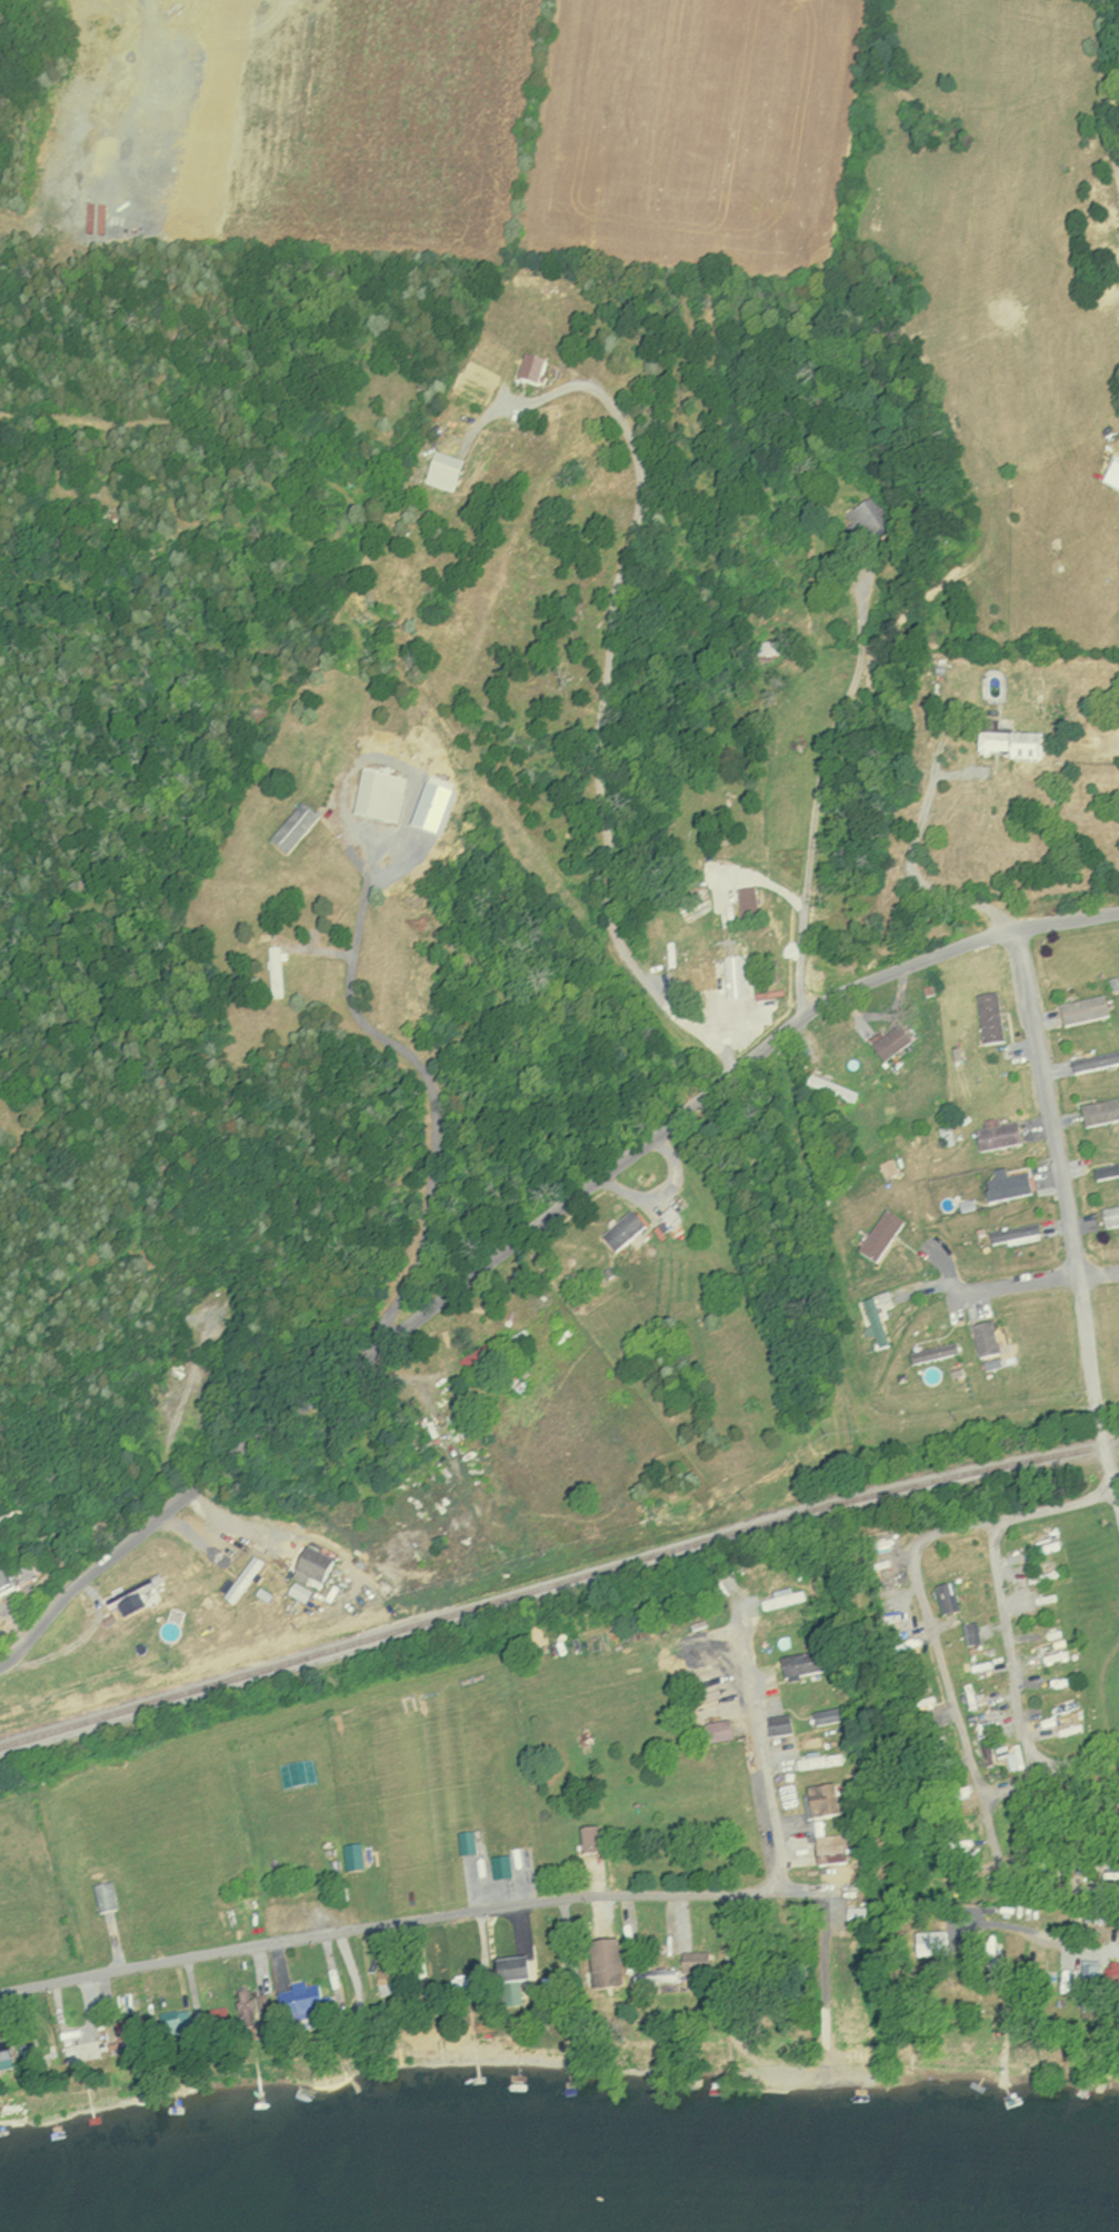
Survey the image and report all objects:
road: (1110, 130)
road: (601, 736)
building: (1017, 746)
road: (818, 793)
road: (917, 878)
building: (749, 904)
road: (903, 967)
building: (272, 973)
building: (723, 973)
building: (772, 973)
building: (1086, 1010)
building: (992, 1018)
road: (728, 1040)
building: (891, 1043)
building: (1096, 1063)
road: (423, 1079)
building: (832, 1089)
building: (1101, 1113)
building: (999, 1135)
building: (969, 1147)
building: (1107, 1172)
building: (1008, 1186)
road: (1065, 1209)
building: (620, 1230)
building: (1013, 1234)
road: (1045, 1279)
building: (873, 1323)
building: (480, 1352)
road: (346, 1359)
road: (1117, 1488)
road: (1117, 1495)
building: (309, 1567)
building: (14, 1572)
building: (237, 1581)
railway: (557, 1584)
building: (130, 1592)
building: (946, 1598)
building: (780, 1601)
building: (172, 1620)
building: (969, 1634)
road: (1011, 1647)
building: (797, 1665)
road: (949, 1683)
building: (821, 1717)
building: (776, 1726)
building: (815, 1762)
road: (1050, 1770)
building: (818, 1802)
building: (586, 1841)
building: (826, 1855)
road: (1063, 1889)
building: (101, 1897)
road: (527, 1902)
building: (692, 1963)
building: (600, 1964)
building: (653, 1976)
building: (1086, 1979)
building: (1108, 1979)
building: (490, 1982)
building: (294, 2000)
building: (240, 2006)
building: (212, 2017)
building: (170, 2023)
building: (127, 2029)
building: (71, 2046)
building: (23, 2054)
building: (2, 2057)

